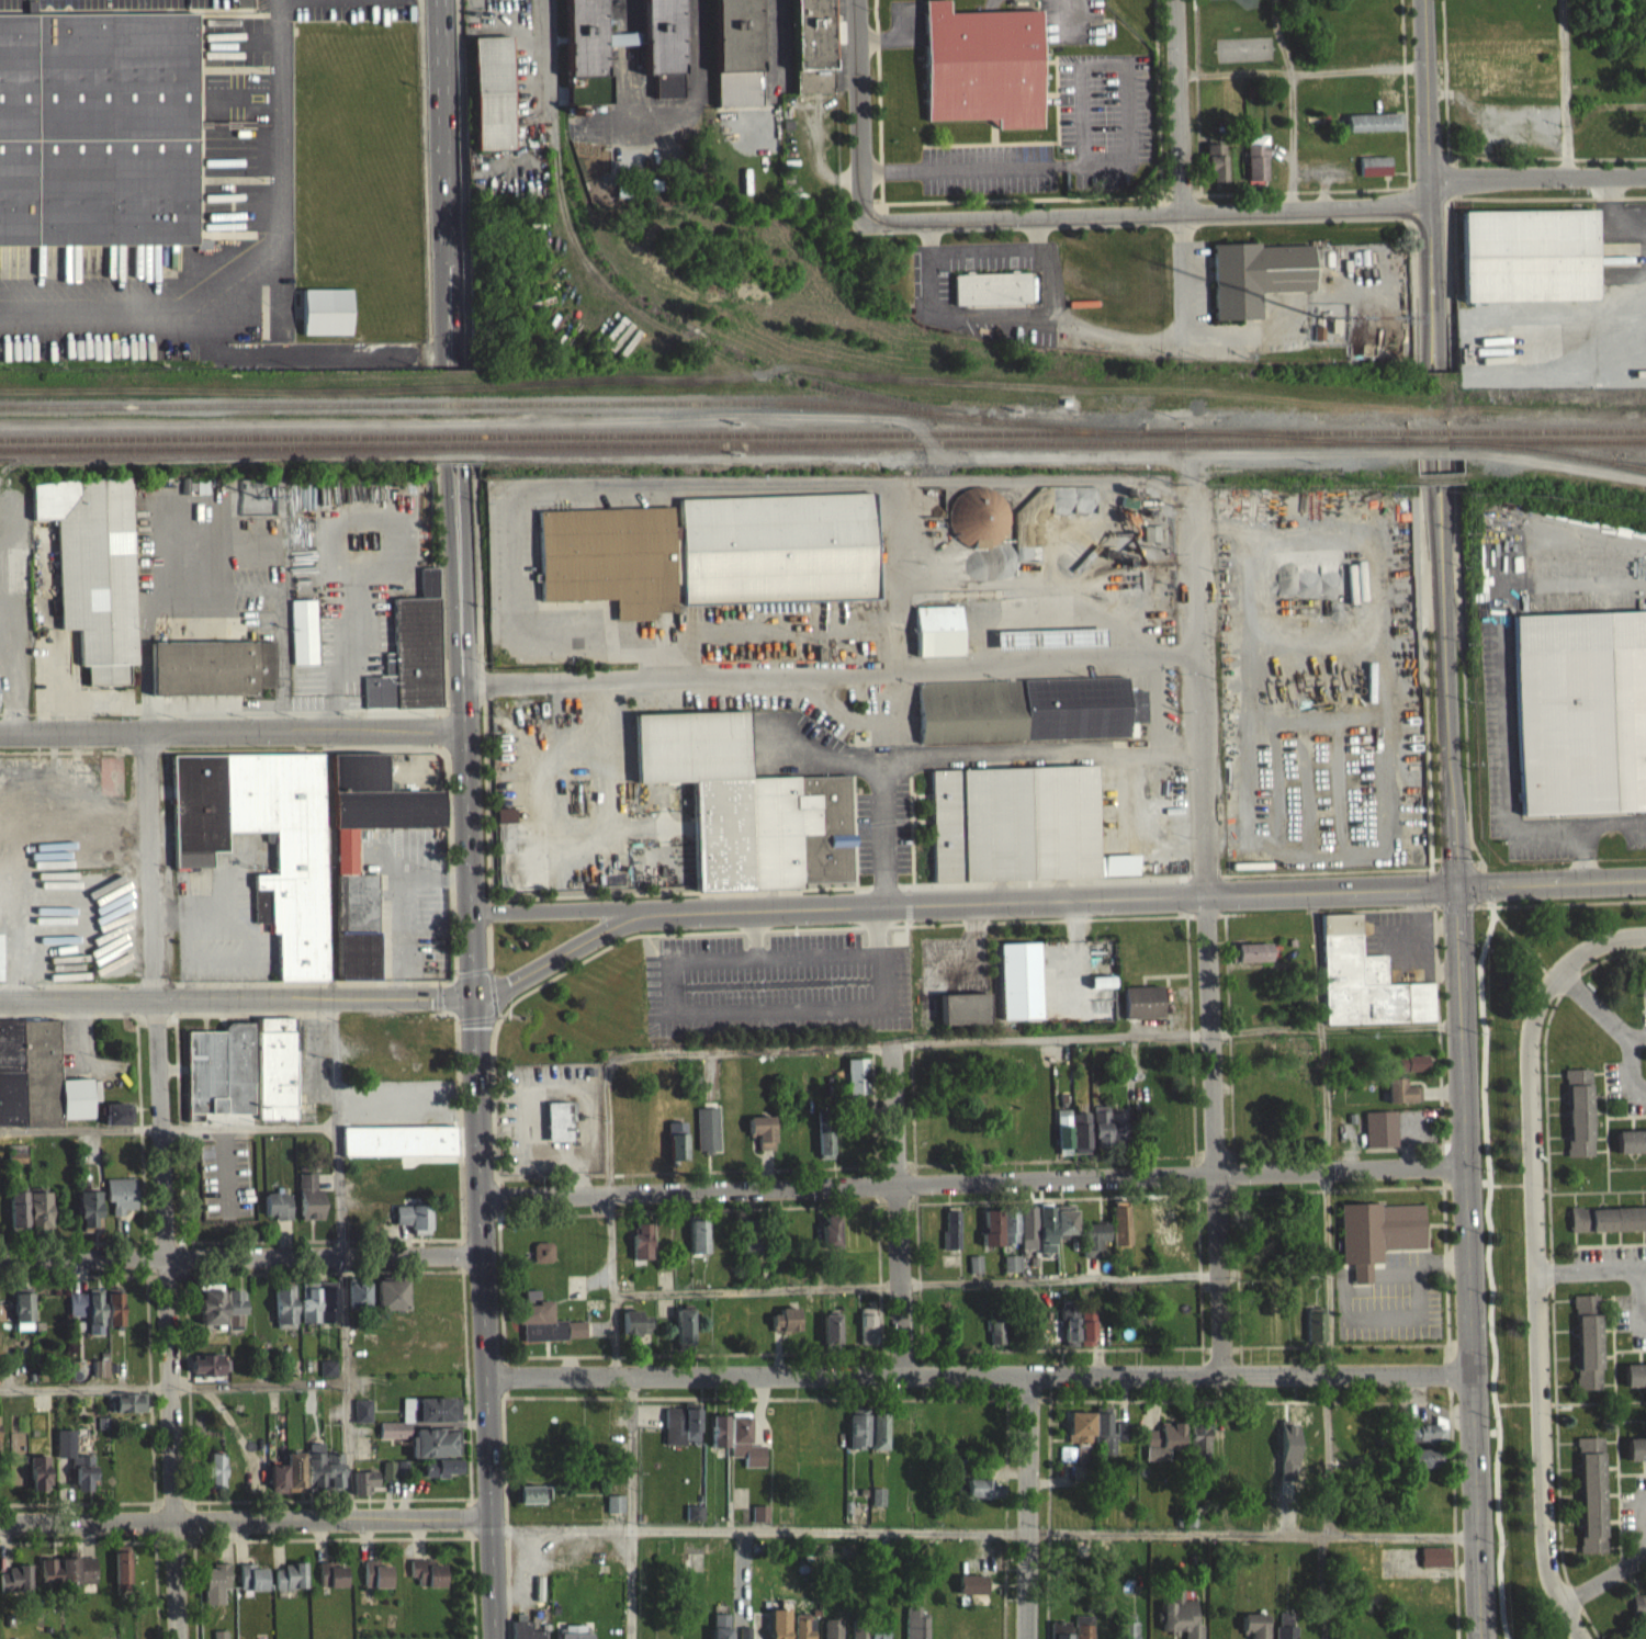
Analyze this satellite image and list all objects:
parking lot: (132, 5)
building: (659, 50)
building: (812, 50)
building: (737, 56)
building: (585, 57)
road: (1300, 72)
building: (982, 74)
road: (1564, 89)
building: (491, 101)
road: (1290, 102)
road: (1177, 104)
road: (858, 111)
road: (446, 126)
building: (1373, 129)
building: (99, 131)
road: (1118, 163)
building: (1255, 166)
building: (1214, 171)
building: (1373, 173)
road: (1429, 179)
road: (1136, 194)
road: (1256, 207)
road: (1039, 237)
road: (927, 240)
building: (1526, 263)
road: (1052, 275)
building: (1254, 284)
road: (274, 291)
building: (991, 296)
road: (440, 307)
road: (456, 308)
building: (326, 319)
road: (1281, 329)
railway: (737, 355)
road: (1429, 366)
road: (1436, 366)
railway: (377, 404)
railway: (950, 415)
railway: (1431, 429)
railway: (1180, 430)
railway: (814, 432)
railway: (455, 434)
railway: (213, 436)
railway: (1292, 436)
railway: (1547, 440)
railway: (967, 442)
railway: (456, 445)
railway: (214, 447)
railway: (1518, 447)
railway: (1616, 461)
railway: (1616, 463)
road: (1433, 493)
road: (1441, 493)
building: (977, 525)
building: (1150, 540)
building: (710, 549)
road: (465, 574)
road: (449, 575)
building: (94, 578)
building: (427, 589)
road: (596, 634)
building: (936, 638)
building: (303, 641)
building: (1048, 646)
road: (663, 658)
building: (408, 667)
road: (828, 674)
building: (212, 676)
road: (1447, 697)
building: (1026, 707)
building: (1580, 709)
road: (233, 733)
road: (608, 747)
road: (471, 801)
building: (745, 803)
building: (1017, 822)
road: (1582, 822)
building: (504, 823)
building: (345, 859)
building: (298, 874)
road: (1552, 886)
traffic signals: (1458, 892)
road: (968, 907)
road: (198, 915)
road: (1203, 935)
road: (1625, 935)
building: (1250, 960)
building: (0, 967)
building: (1017, 988)
building: (1363, 988)
building: (1101, 991)
building: (1642, 993)
road: (1593, 1001)
road: (340, 1003)
traffic signals: (482, 1005)
building: (1140, 1010)
building: (962, 1017)
road: (1334, 1027)
road: (1634, 1033)
road: (1048, 1036)
road: (685, 1052)
building: (1410, 1071)
road: (891, 1072)
road: (1625, 1073)
building: (275, 1076)
building: (219, 1080)
building: (855, 1084)
building: (36, 1085)
building: (1400, 1099)
building: (1578, 1121)
building: (117, 1122)
road: (251, 1126)
building: (559, 1129)
road: (337, 1132)
building: (1062, 1137)
building: (1107, 1137)
building: (1378, 1137)
building: (707, 1138)
building: (762, 1139)
building: (1080, 1141)
building: (676, 1149)
building: (397, 1150)
building: (1631, 1150)
building: (16, 1161)
road: (974, 1180)
road: (167, 1186)
building: (120, 1202)
building: (309, 1206)
building: (278, 1213)
building: (16, 1218)
building: (88, 1218)
building: (37, 1219)
building: (414, 1225)
building: (1158, 1227)
building: (1063, 1228)
building: (1608, 1228)
building: (1119, 1233)
building: (999, 1235)
building: (1027, 1236)
building: (1045, 1236)
building: (950, 1239)
building: (830, 1240)
building: (1377, 1242)
building: (697, 1244)
building: (748, 1244)
building: (1092, 1246)
building: (640, 1251)
building: (542, 1261)
road: (241, 1263)
road: (1641, 1264)
road: (1470, 1265)
road: (1588, 1266)
building: (973, 1273)
building: (1010, 1273)
road: (1541, 1277)
road: (485, 1278)
road: (1636, 1299)
building: (357, 1303)
building: (391, 1303)
building: (530, 1305)
building: (308, 1311)
building: (327, 1311)
building: (208, 1313)
building: (283, 1316)
building: (87, 1318)
building: (112, 1318)
building: (234, 1318)
building: (22, 1320)
building: (785, 1329)
building: (634, 1331)
building: (544, 1332)
building: (1315, 1332)
building: (867, 1334)
building: (1069, 1334)
building: (1085, 1334)
building: (684, 1337)
building: (830, 1338)
building: (994, 1341)
building: (1587, 1350)
building: (205, 1374)
building: (99, 1377)
building: (327, 1378)
road: (981, 1378)
building: (1634, 1382)
road: (259, 1383)
road: (345, 1392)
road: (87, 1398)
building: (126, 1411)
building: (362, 1420)
building: (420, 1423)
building: (680, 1434)
building: (1079, 1436)
building: (866, 1437)
building: (717, 1439)
building: (1120, 1439)
building: (1103, 1440)
building: (1421, 1442)
building: (743, 1449)
building: (1162, 1449)
building: (1198, 1449)
building: (433, 1451)
road: (1323, 1454)
building: (1635, 1457)
building: (1421, 1467)
building: (74, 1468)
building: (314, 1473)
building: (439, 1476)
building: (214, 1479)
building: (334, 1480)
building: (37, 1481)
building: (387, 1481)
building: (286, 1482)
building: (363, 1490)
building: (981, 1496)
building: (531, 1502)
building: (1591, 1503)
building: (877, 1505)
road: (631, 1508)
road: (1031, 1508)
building: (613, 1512)
building: (759, 1522)
road: (1642, 1522)
road: (246, 1524)
road: (762, 1527)
road: (1256, 1533)
road: (1644, 1552)
building: (1433, 1565)
road: (1602, 1576)
building: (47, 1579)
building: (77, 1579)
building: (121, 1579)
building: (427, 1582)
building: (331, 1583)
building: (376, 1583)
building: (290, 1585)
road: (1321, 1585)
building: (251, 1586)
building: (15, 1587)
building: (214, 1591)
building: (969, 1595)
building: (1638, 1614)
building: (1176, 1623)
building: (777, 1628)
building: (914, 1628)
building: (720, 1629)
building: (802, 1630)
building: (1252, 1630)
building: (1284, 1630)
building: (521, 1631)
building: (831, 1632)
building: (1060, 1634)
building: (1125, 1635)
building: (574, 1636)
building: (1082, 1636)
building: (719, 1637)
building: (867, 1637)

